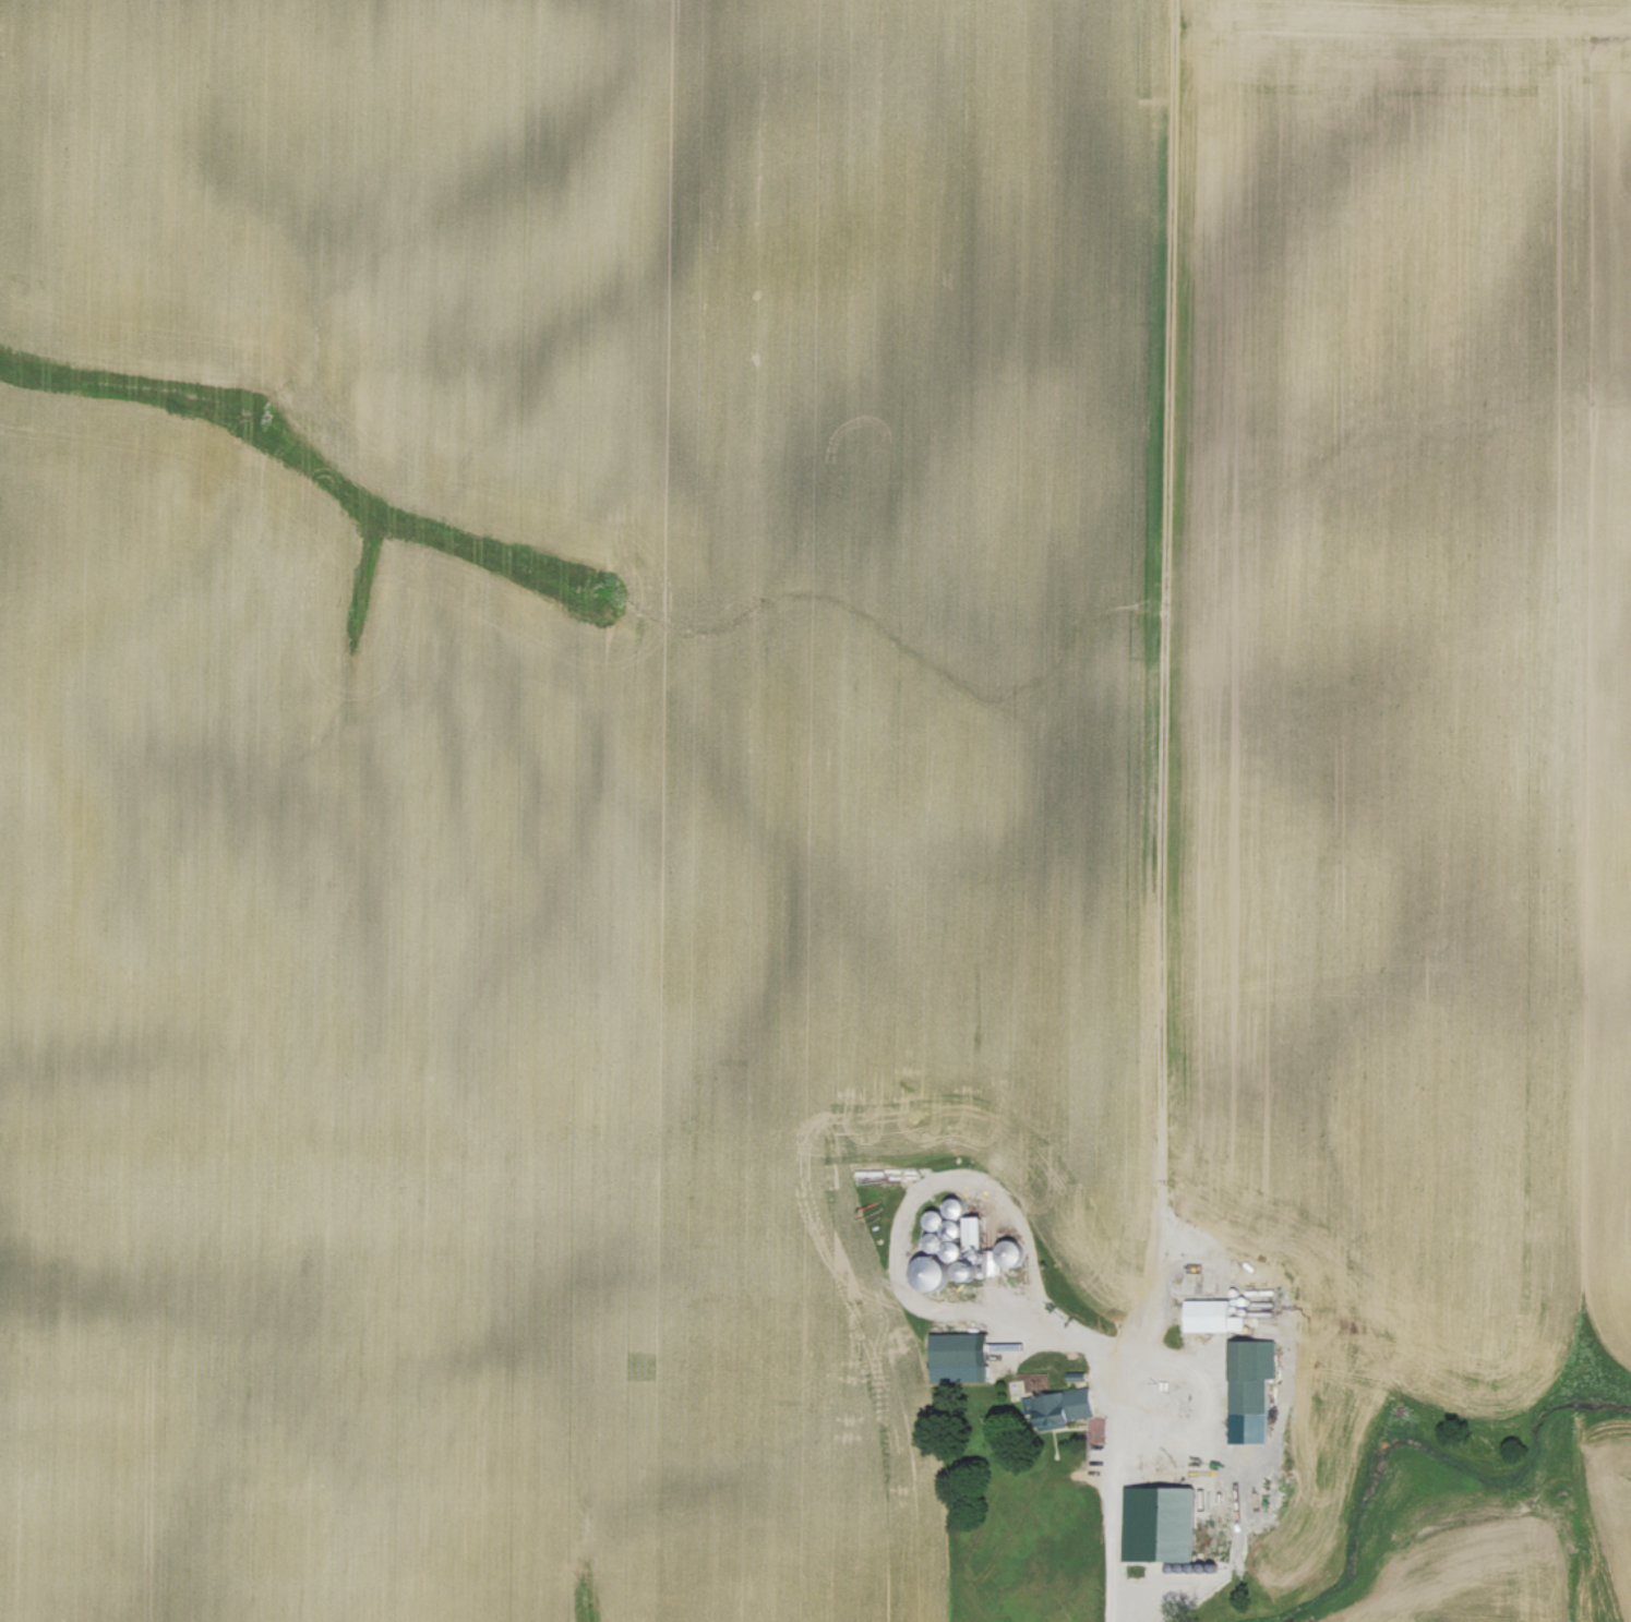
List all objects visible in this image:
building: (952, 1357)
building: (1249, 1380)
road: (1119, 1486)
building: (1150, 1517)

